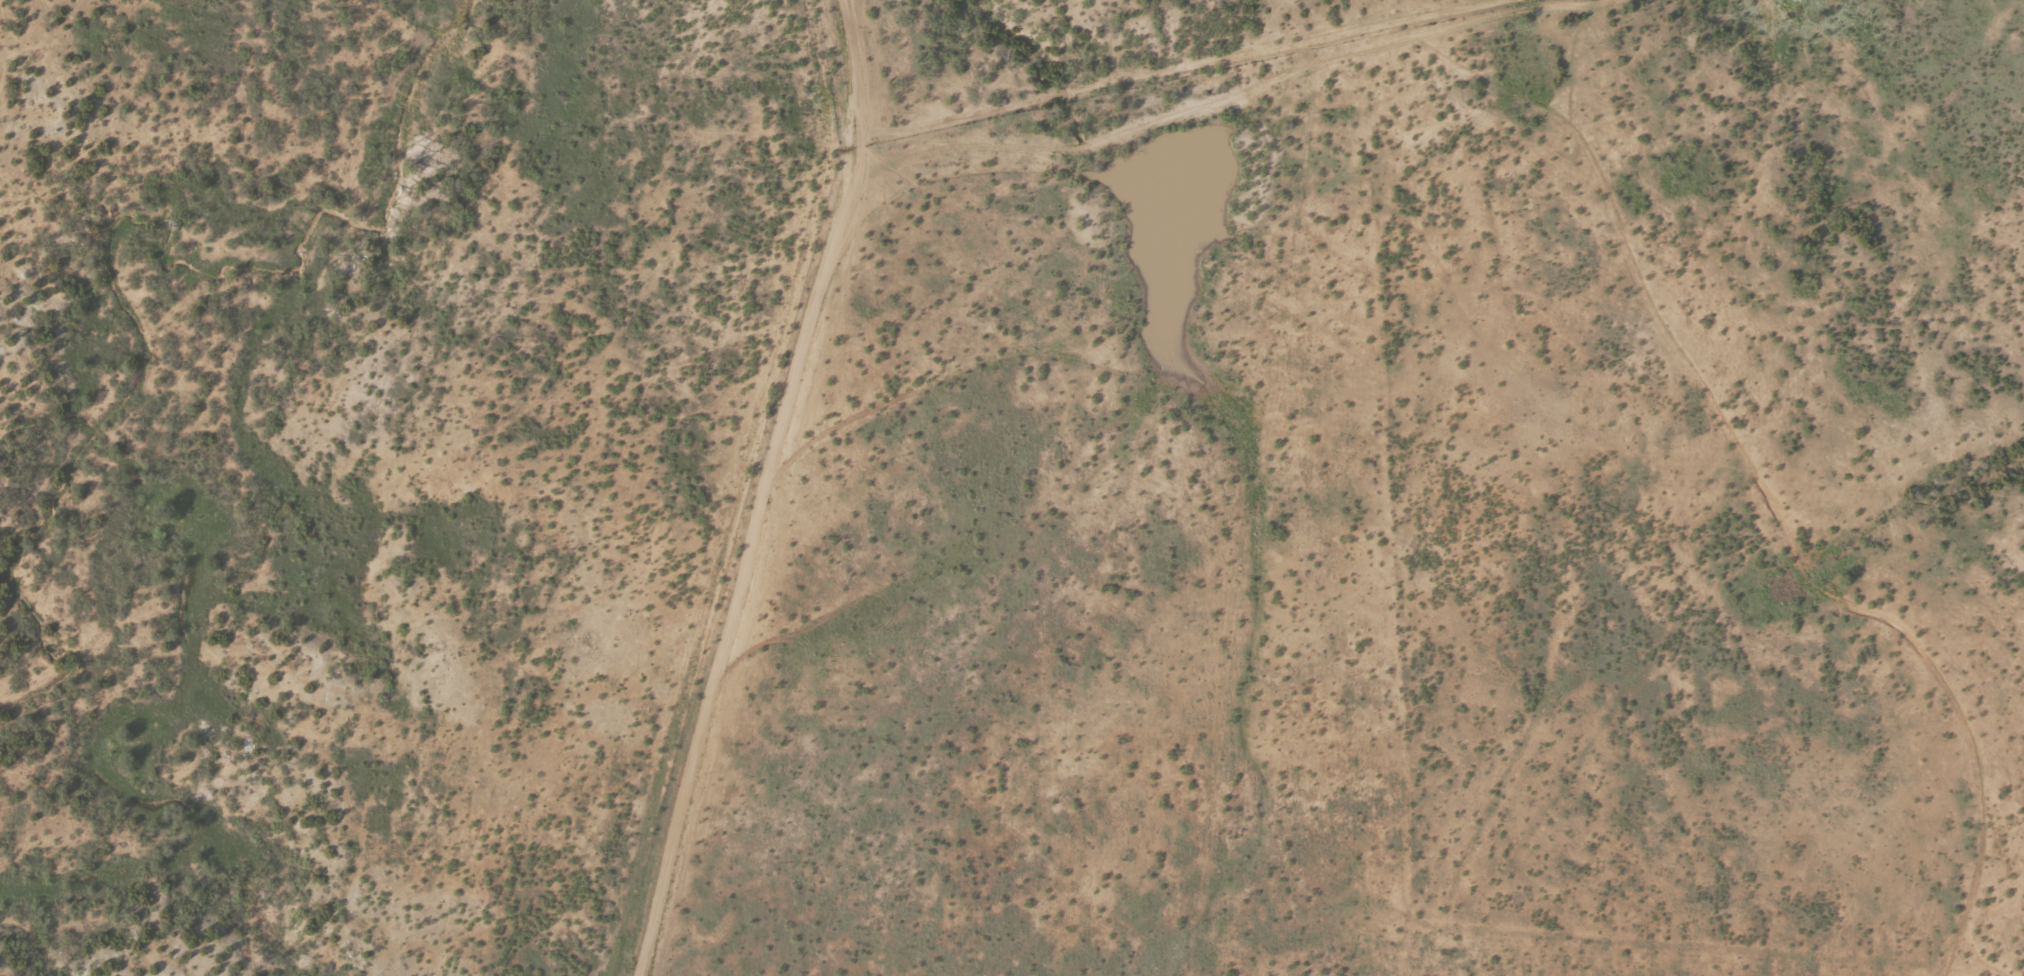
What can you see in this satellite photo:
road: (764, 490)

